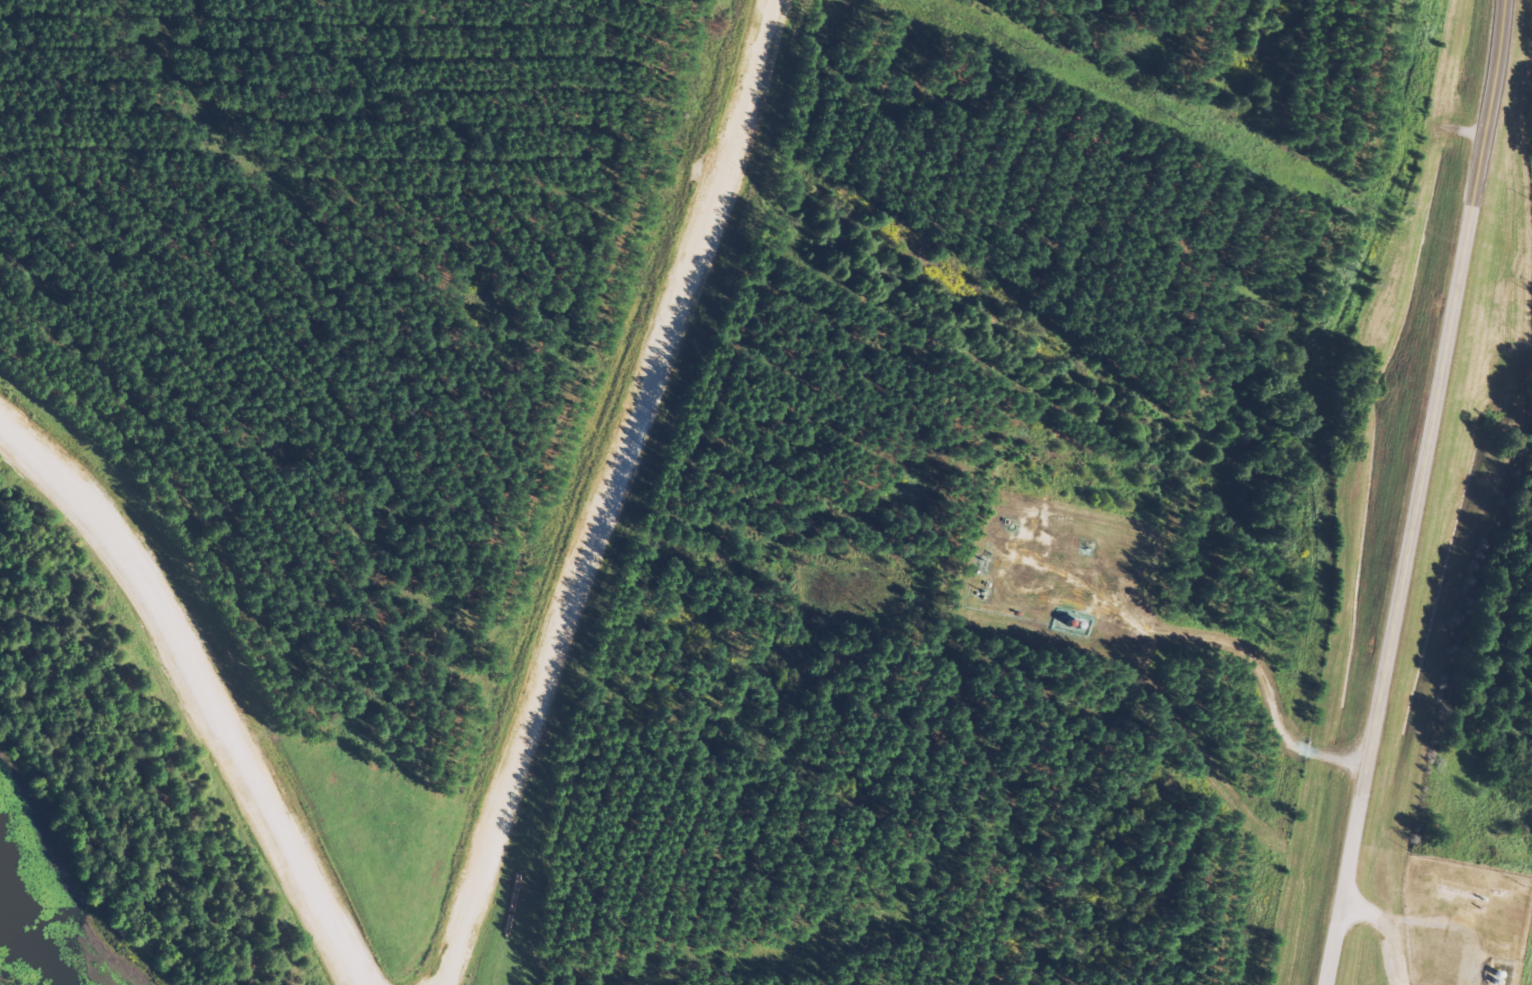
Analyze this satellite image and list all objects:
road: (1414, 492)
road: (614, 493)
road: (210, 685)

